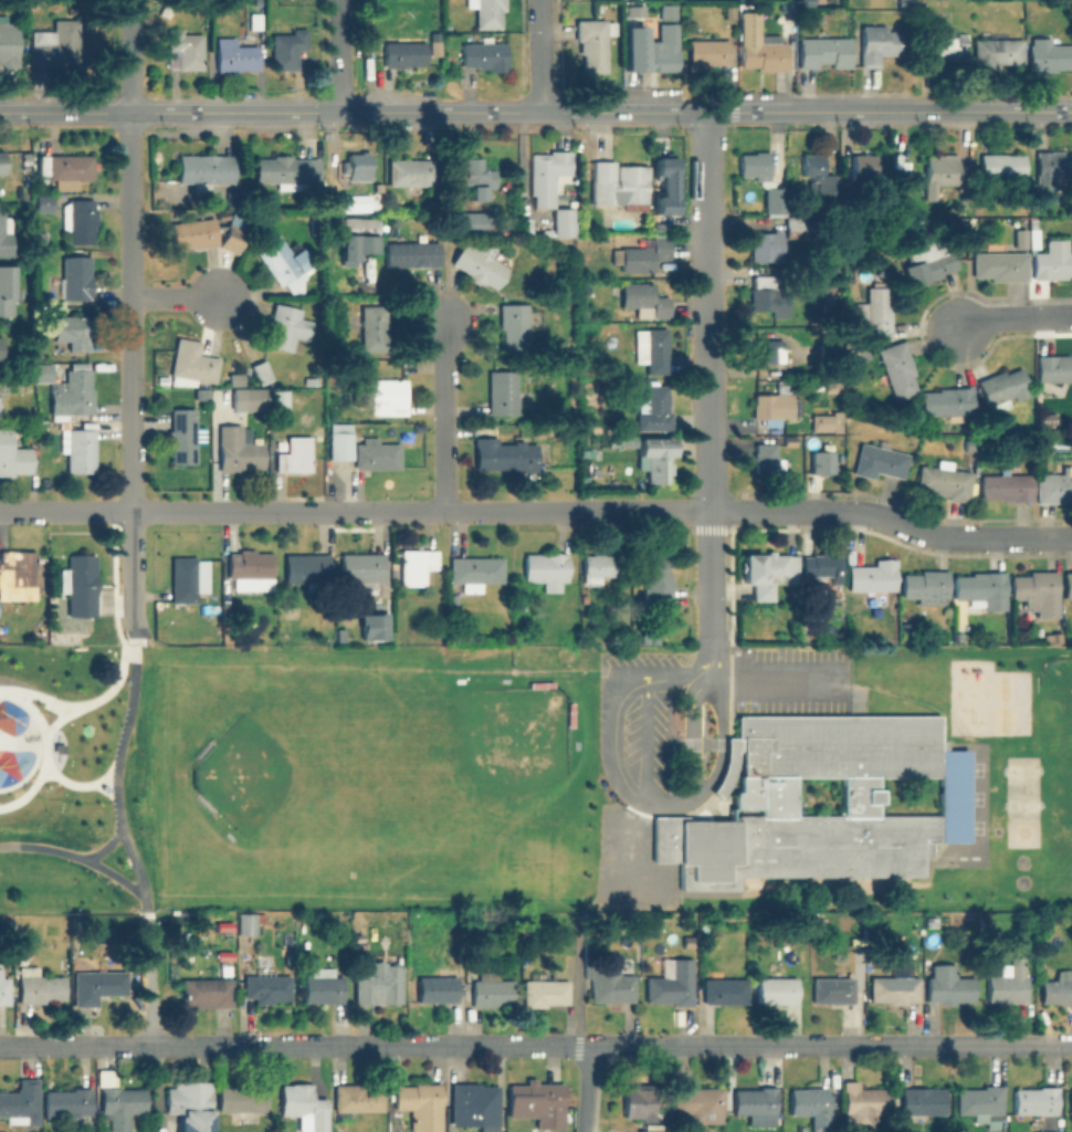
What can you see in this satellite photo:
building: (902, 1)
building: (666, 9)
building: (729, 11)
building: (487, 12)
building: (787, 29)
building: (56, 42)
building: (593, 42)
building: (8, 43)
building: (879, 43)
building: (949, 44)
building: (650, 46)
building: (287, 48)
building: (183, 50)
building: (826, 51)
building: (404, 52)
building: (996, 52)
building: (484, 53)
building: (707, 53)
building: (764, 54)
building: (1049, 55)
building: (237, 56)
road: (339, 56)
road: (540, 56)
road: (851, 112)
road: (991, 112)
road: (396, 113)
building: (1, 161)
building: (358, 164)
building: (756, 164)
building: (41, 165)
building: (1001, 165)
building: (863, 166)
building: (69, 168)
building: (204, 168)
building: (1050, 168)
building: (285, 170)
building: (411, 171)
building: (818, 172)
building: (477, 174)
building: (546, 174)
building: (942, 175)
building: (666, 180)
building: (622, 185)
building: (776, 199)
building: (44, 203)
building: (78, 219)
building: (563, 220)
building: (474, 221)
building: (314, 223)
building: (963, 226)
building: (800, 228)
building: (193, 232)
building: (4, 234)
building: (358, 237)
building: (1021, 237)
building: (1033, 237)
building: (232, 239)
building: (765, 244)
building: (412, 252)
building: (643, 254)
building: (928, 261)
building: (1052, 261)
building: (284, 263)
building: (479, 263)
building: (1000, 265)
building: (75, 276)
building: (6, 289)
building: (769, 295)
road: (175, 297)
building: (643, 297)
building: (829, 303)
road: (710, 312)
building: (874, 312)
road: (1012, 317)
road: (133, 318)
building: (515, 324)
building: (372, 326)
building: (285, 327)
building: (72, 332)
building: (0, 347)
building: (651, 348)
building: (767, 349)
building: (832, 352)
building: (862, 353)
building: (191, 363)
building: (1053, 367)
building: (41, 368)
building: (898, 368)
building: (261, 369)
building: (311, 382)
building: (1001, 388)
building: (826, 390)
building: (202, 392)
building: (72, 394)
building: (503, 394)
building: (278, 397)
building: (254, 398)
building: (388, 398)
building: (946, 402)
building: (773, 408)
building: (654, 409)
road: (445, 416)
building: (829, 422)
building: (1028, 424)
building: (185, 436)
building: (339, 439)
building: (969, 443)
building: (237, 449)
building: (81, 450)
building: (293, 452)
building: (375, 453)
building: (592, 453)
building: (503, 454)
building: (13, 455)
building: (659, 457)
building: (761, 457)
building: (818, 459)
building: (879, 461)
building: (944, 481)
building: (1007, 486)
building: (1054, 488)
road: (356, 513)
road: (893, 521)
building: (249, 565)
building: (416, 566)
building: (603, 566)
building: (822, 567)
building: (307, 568)
building: (361, 568)
building: (546, 568)
building: (474, 572)
building: (765, 572)
building: (873, 575)
building: (18, 576)
building: (652, 576)
road: (712, 576)
building: (185, 579)
building: (78, 584)
building: (925, 584)
building: (1068, 585)
building: (982, 588)
building: (1038, 590)
building: (453, 600)
building: (519, 606)
building: (519, 616)
building: (76, 629)
building: (383, 630)
road: (712, 657)
parking lot: (789, 681)
road: (775, 682)
road: (2, 691)
road: (80, 707)
parking lot: (633, 716)
road: (54, 723)
road: (611, 727)
road: (692, 732)
road: (645, 738)
road: (721, 740)
road: (46, 751)
park: (1020, 768)
park: (282, 775)
road: (116, 777)
park: (451, 777)
park: (81, 778)
road: (77, 786)
building: (761, 800)
park: (1020, 805)
road: (630, 837)
road: (97, 841)
road: (75, 860)
parking lot: (630, 863)
building: (985, 921)
building: (250, 922)
building: (687, 941)
building: (21, 958)
building: (525, 960)
road: (148, 981)
building: (1008, 983)
building: (379, 984)
building: (611, 984)
building: (673, 984)
building: (98, 985)
building: (948, 985)
building: (40, 986)
building: (267, 986)
building: (895, 986)
building: (438, 987)
building: (833, 988)
building: (1058, 988)
building: (209, 989)
building: (324, 989)
building: (4, 990)
building: (491, 990)
building: (726, 990)
building: (777, 990)
building: (546, 992)
road: (577, 994)
road: (536, 1045)
road: (585, 1089)
building: (358, 1097)
building: (537, 1100)
building: (242, 1101)
building: (642, 1101)
building: (923, 1101)
building: (1034, 1101)
building: (21, 1102)
building: (123, 1102)
building: (190, 1103)
building: (981, 1103)
building: (67, 1104)
building: (422, 1104)
building: (700, 1104)
building: (756, 1104)
building: (862, 1104)
building: (1071, 1104)
building: (476, 1105)
building: (812, 1105)
building: (304, 1107)
building: (654, 1128)
building: (1044, 1131)

